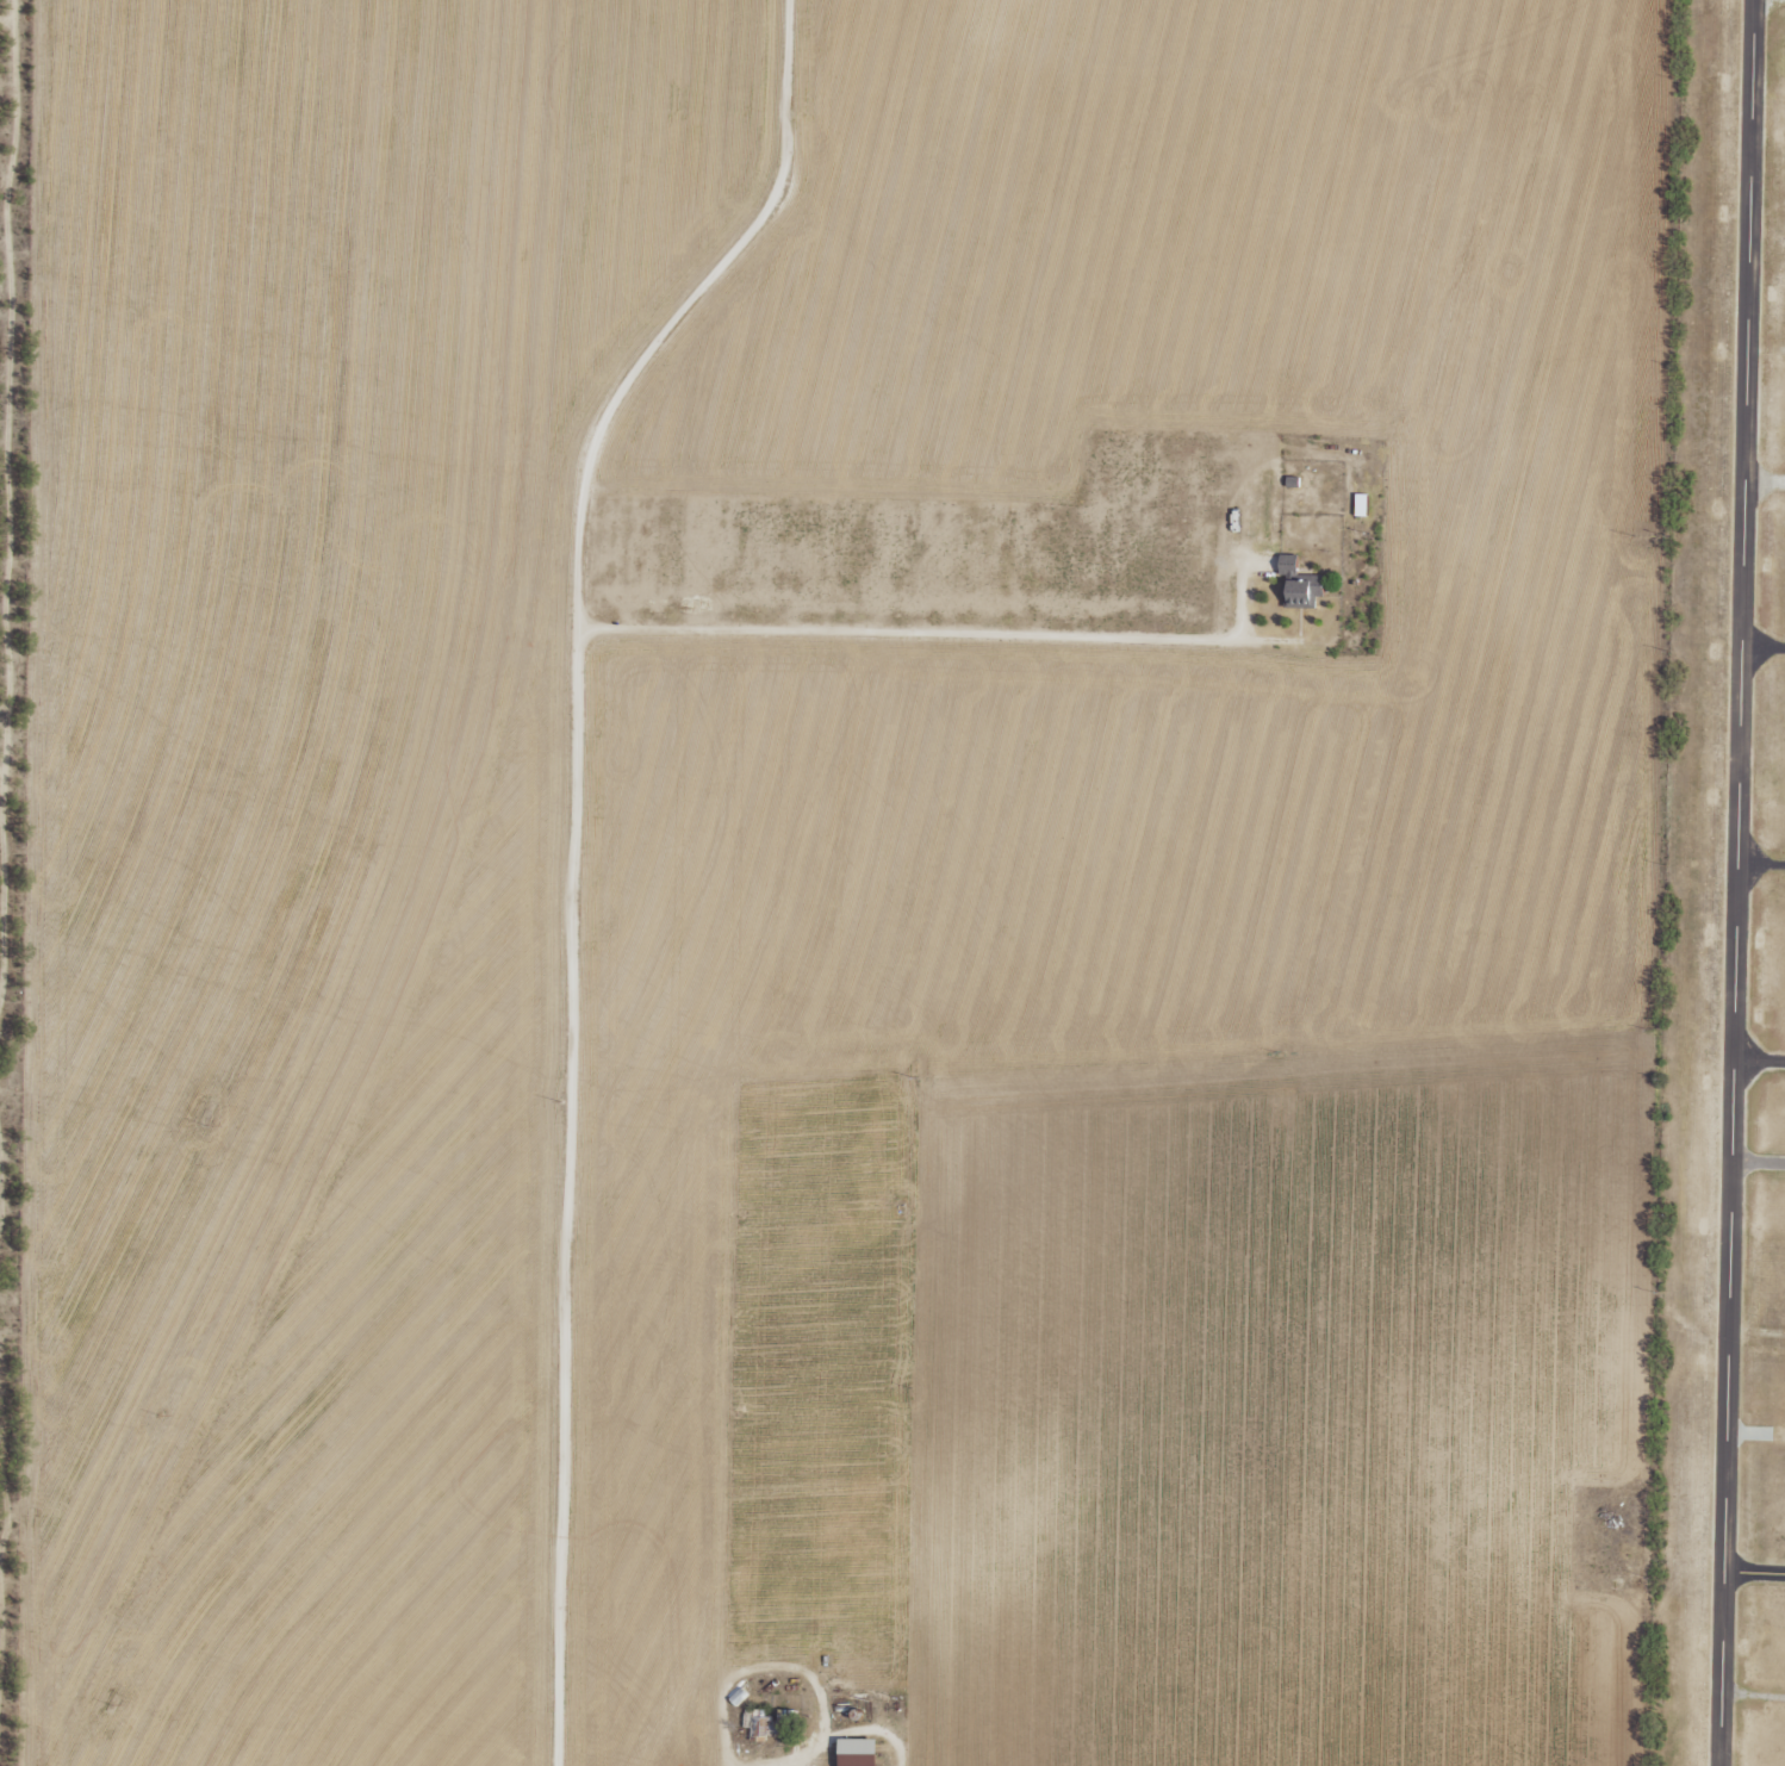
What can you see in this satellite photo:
road: (1774, 216)
building: (1360, 504)
building: (1299, 583)
road: (1773, 646)
airport runway: (1734, 883)
airport: (1724, 935)
road: (1777, 1063)
building: (856, 1752)

